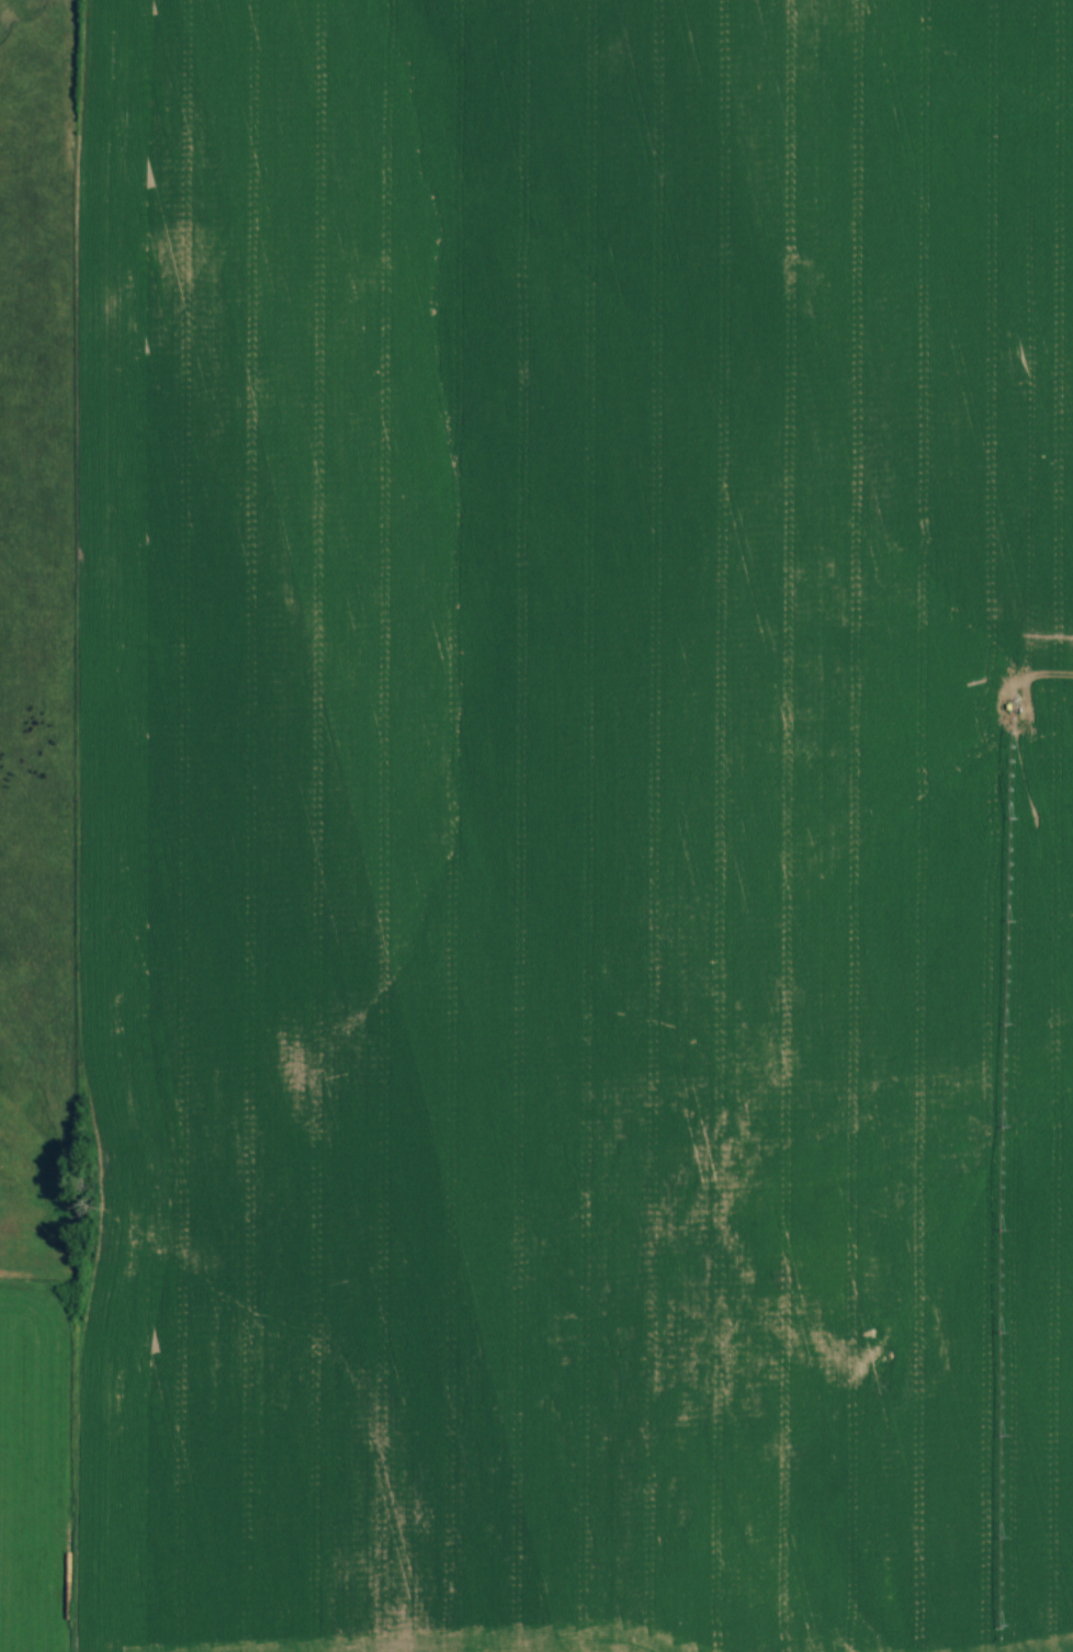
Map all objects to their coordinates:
road: (732, 1496)

